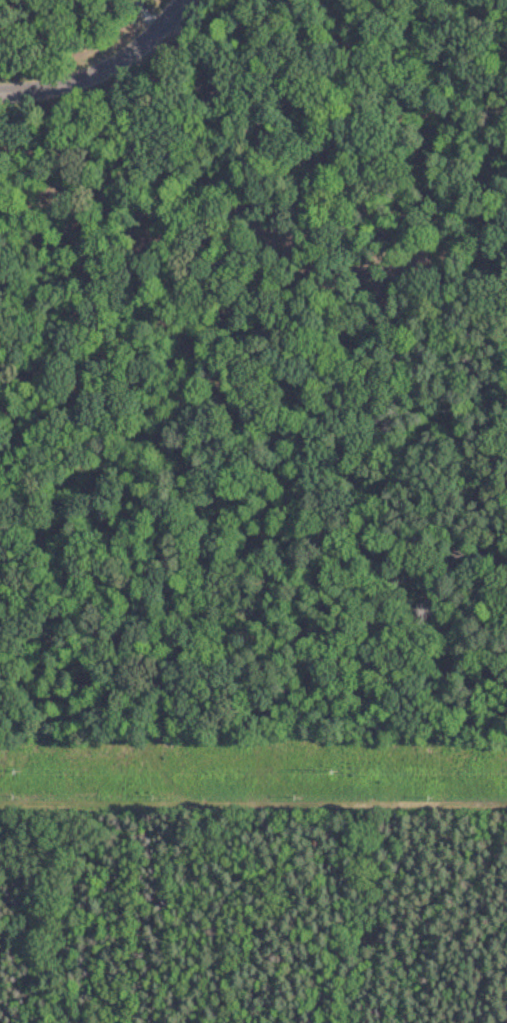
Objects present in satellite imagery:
road: (103, 69)

